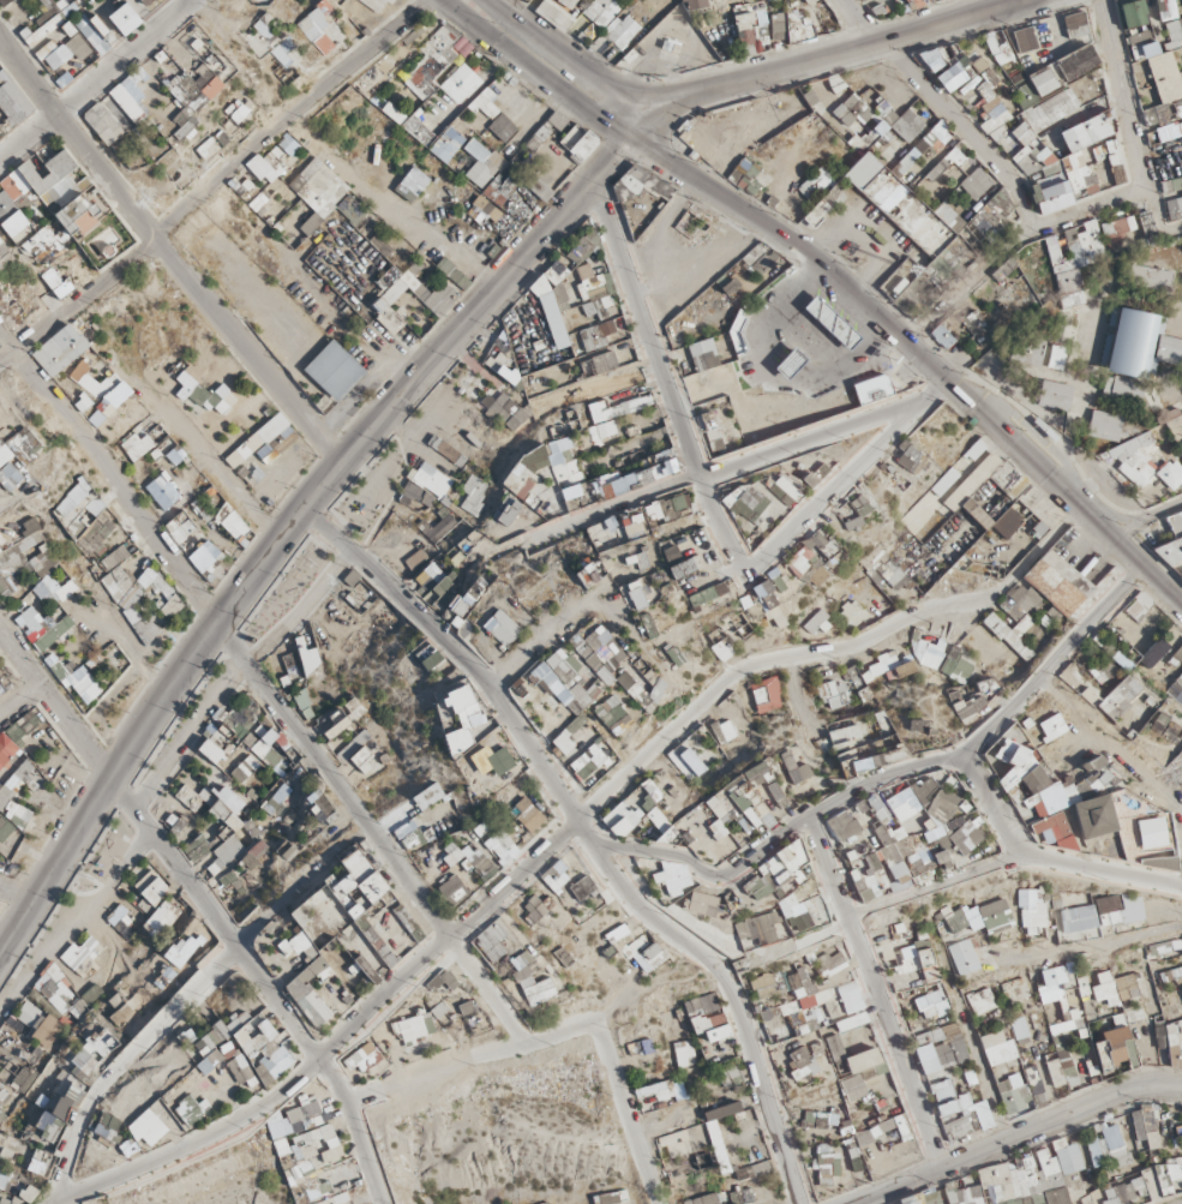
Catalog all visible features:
road: (673, 35)
road: (565, 54)
road: (822, 54)
building: (463, 80)
building: (1054, 106)
road: (941, 107)
road: (1124, 113)
building: (899, 134)
road: (216, 182)
road: (1170, 226)
road: (863, 234)
road: (1012, 238)
road: (442, 246)
road: (834, 272)
building: (554, 317)
road: (800, 342)
building: (1133, 343)
road: (655, 375)
road: (1036, 436)
road: (708, 468)
road: (842, 471)
road: (300, 514)
road: (1147, 521)
road: (788, 694)
road: (1110, 739)
road: (884, 766)
building: (904, 798)
road: (986, 801)
road: (557, 833)
building: (888, 856)
road: (944, 875)
building: (1032, 899)
building: (1078, 912)
road: (1105, 945)
building: (540, 978)
building: (988, 995)
building: (1170, 998)
building: (1020, 1034)
building: (1066, 1035)
building: (936, 1042)
building: (865, 1091)
road: (1014, 1136)
building: (1135, 1140)
building: (828, 1180)
building: (1016, 1181)
building: (692, 1186)

